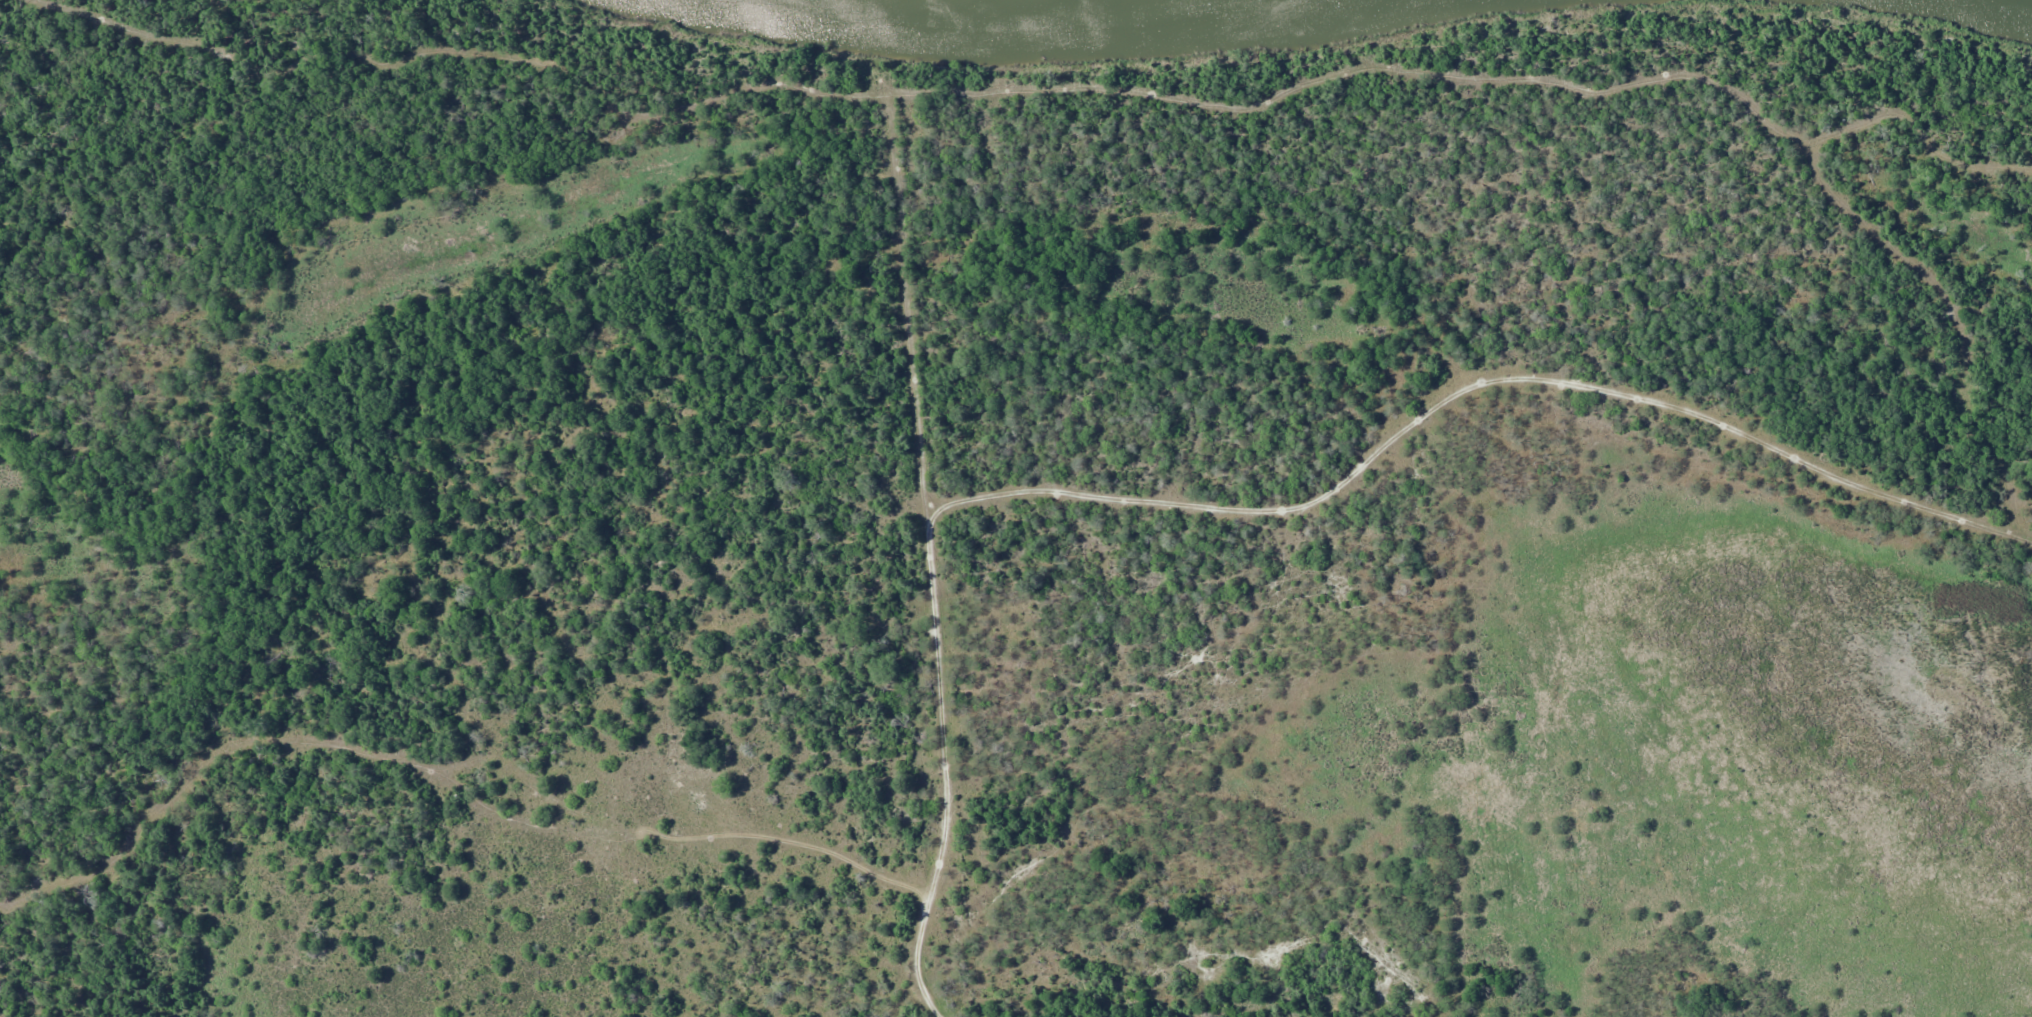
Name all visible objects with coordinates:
river: (2002, 7)
river: (1042, 23)
road: (1122, 152)
road: (848, 909)
road: (952, 973)

